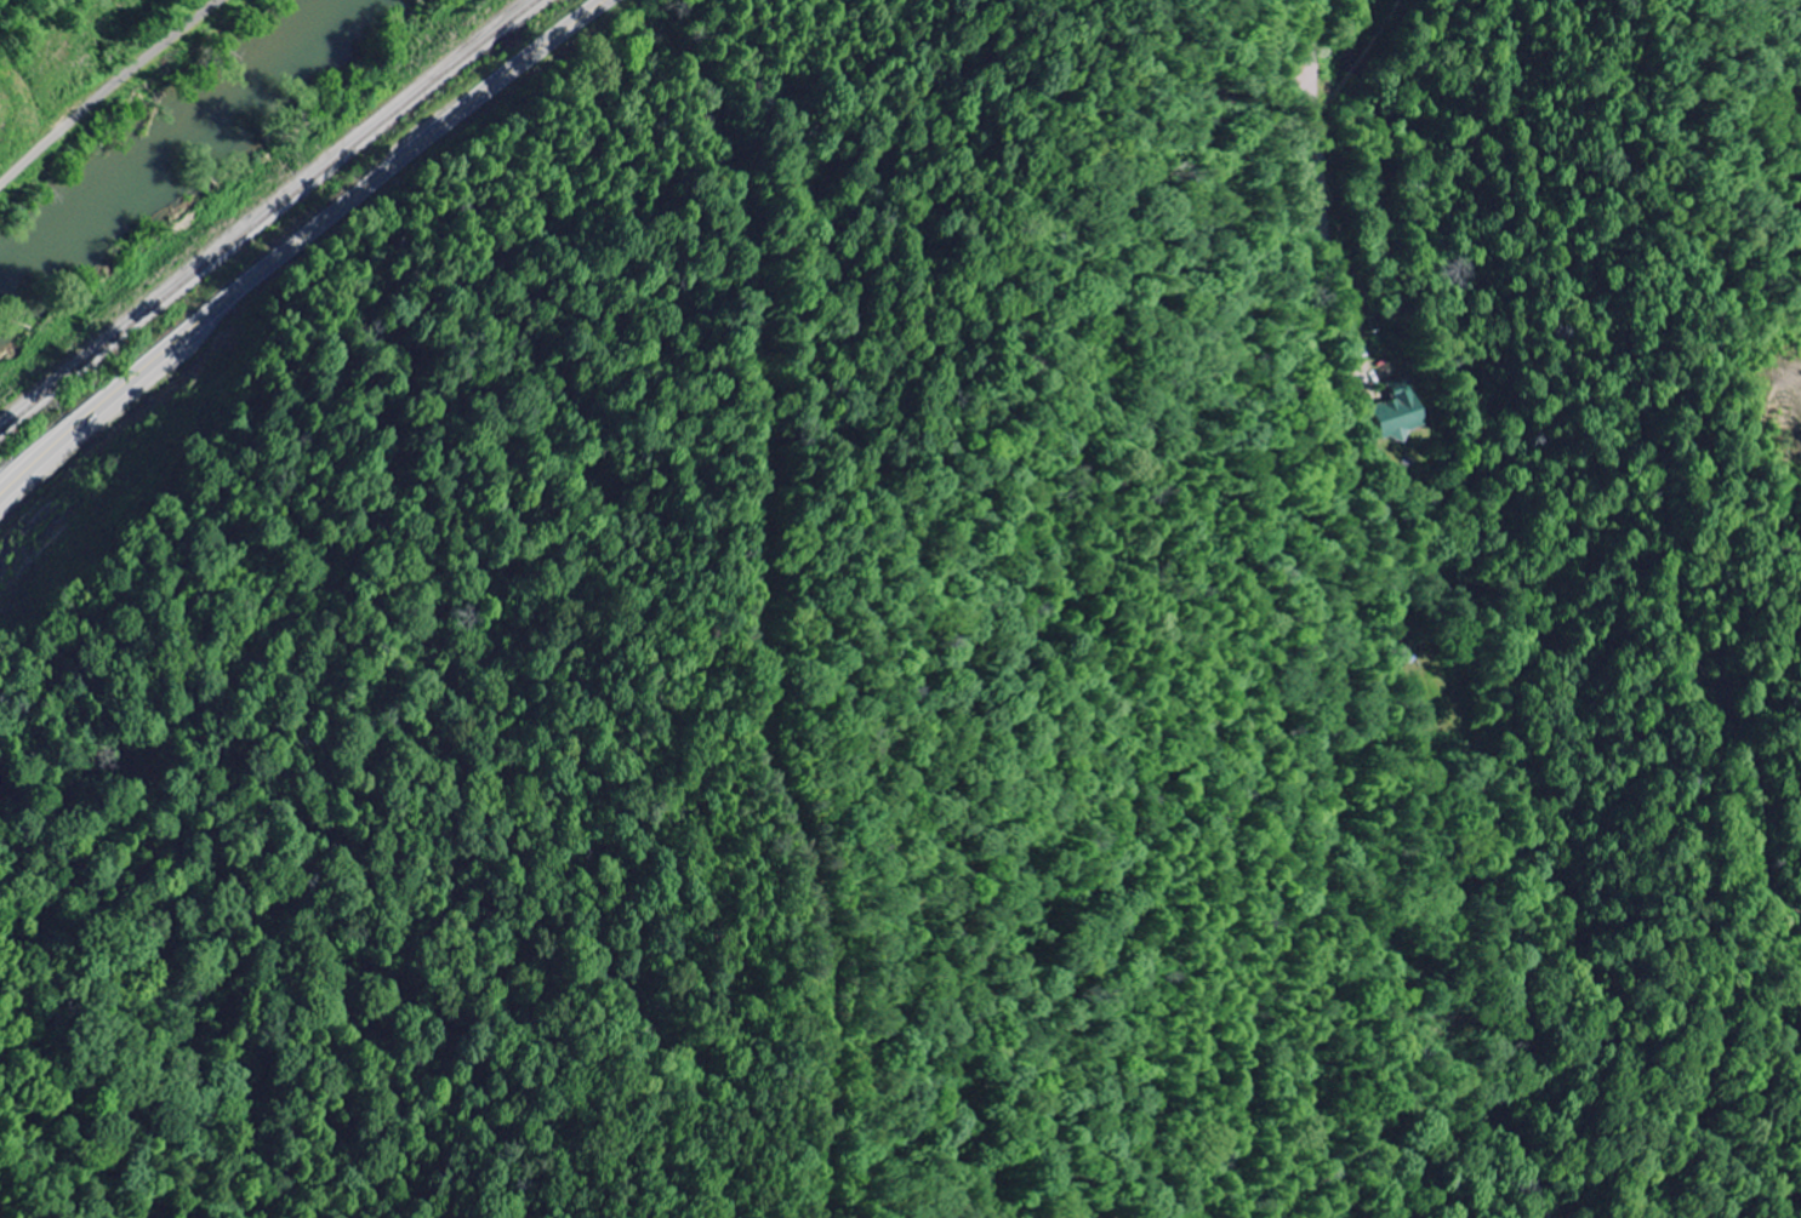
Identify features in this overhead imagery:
road: (107, 88)
river: (166, 135)
railway: (266, 210)
road: (295, 245)
building: (1395, 412)

